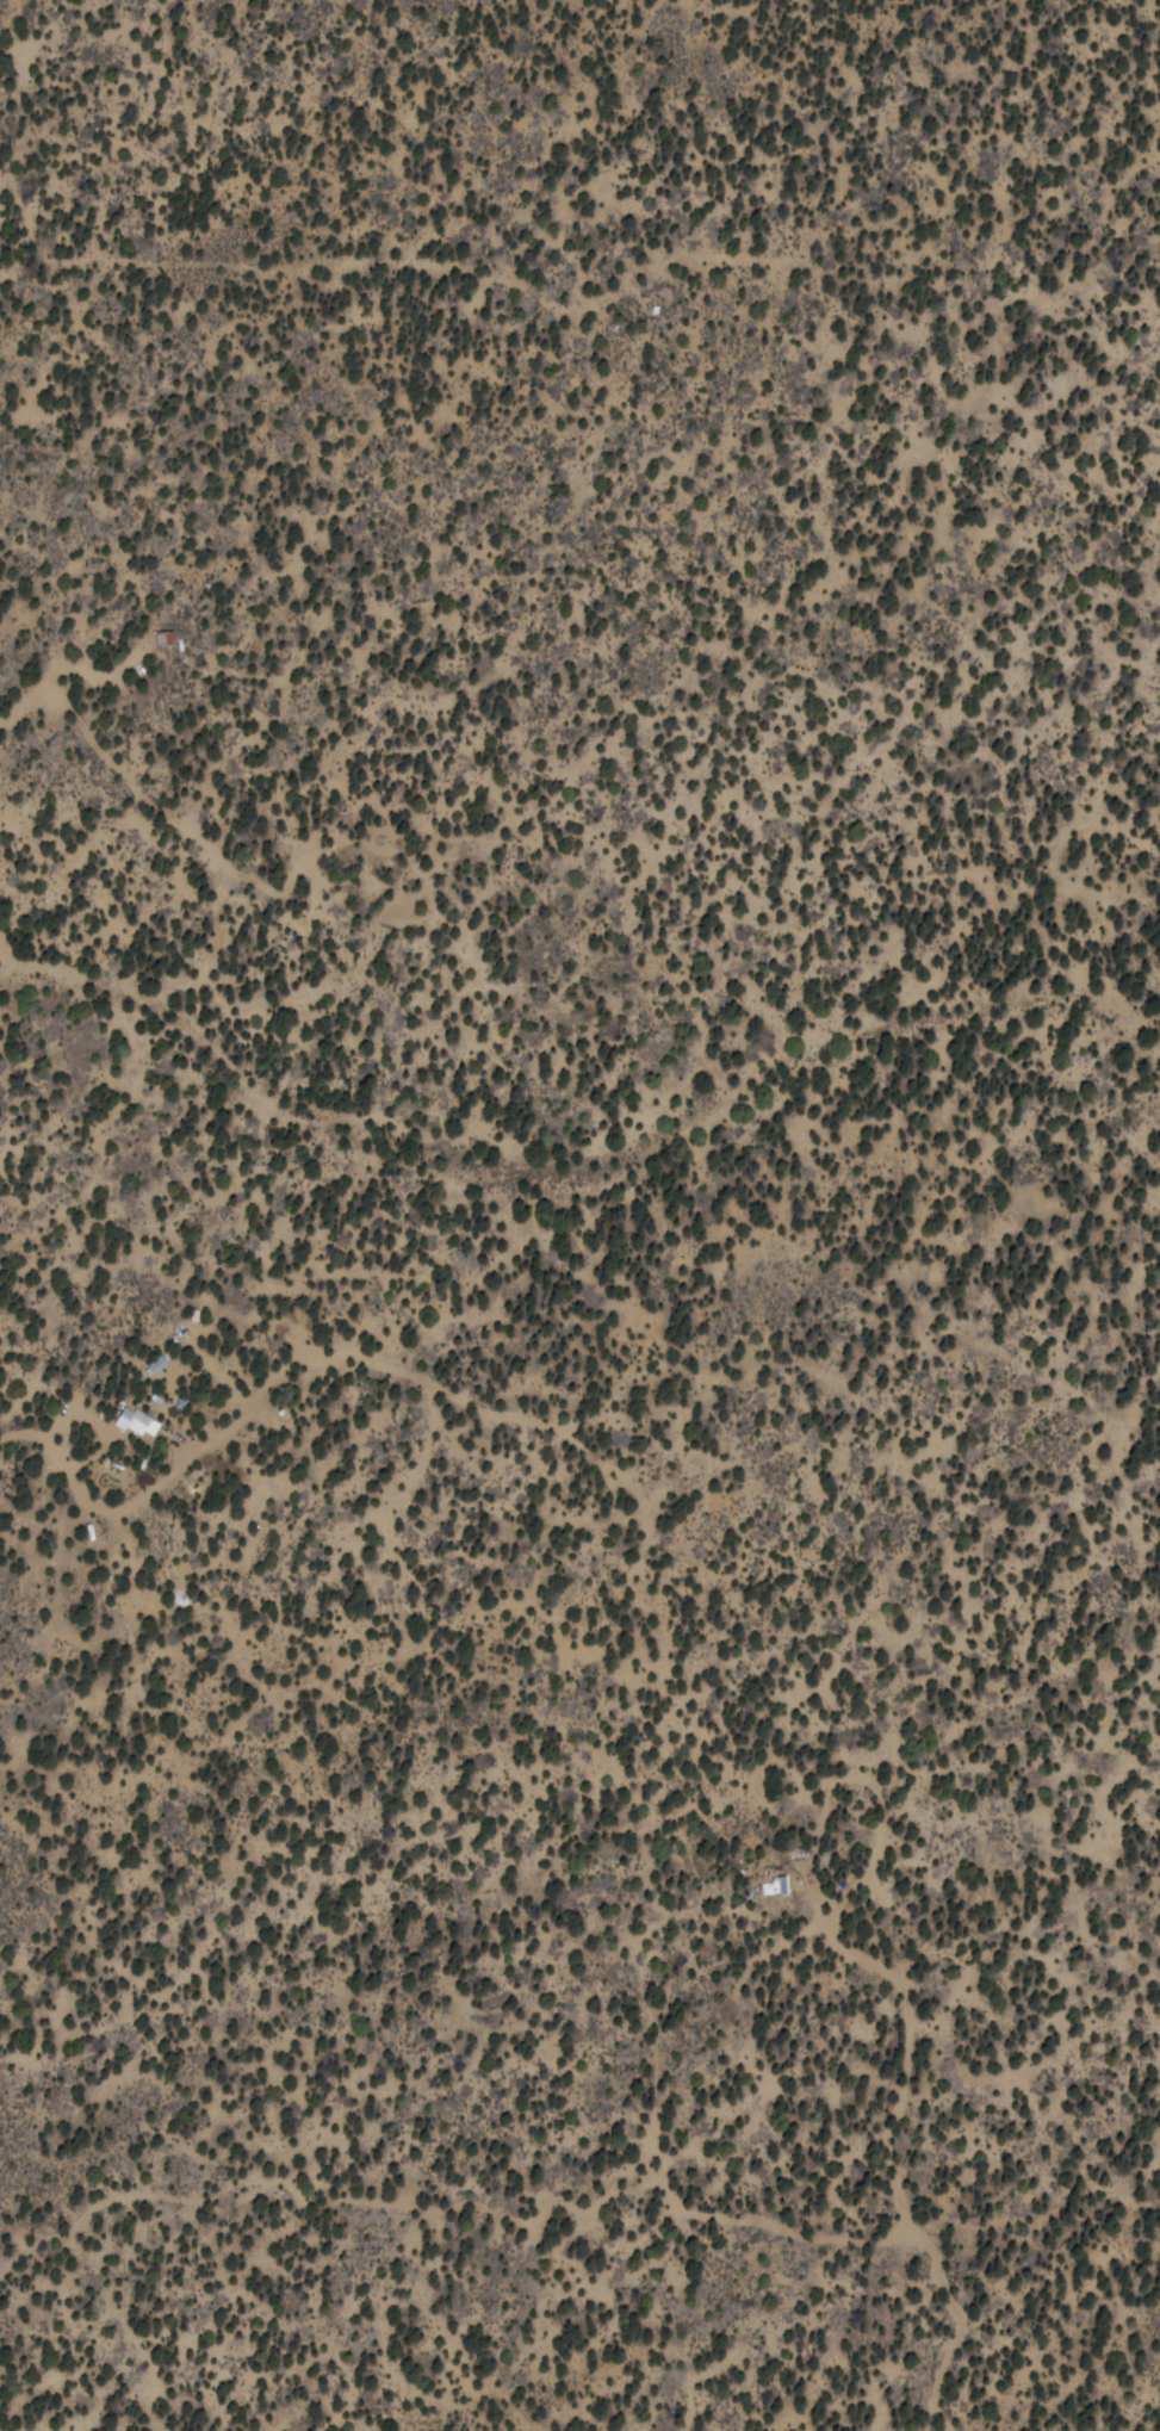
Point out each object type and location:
building: (161, 635)
building: (135, 1420)

